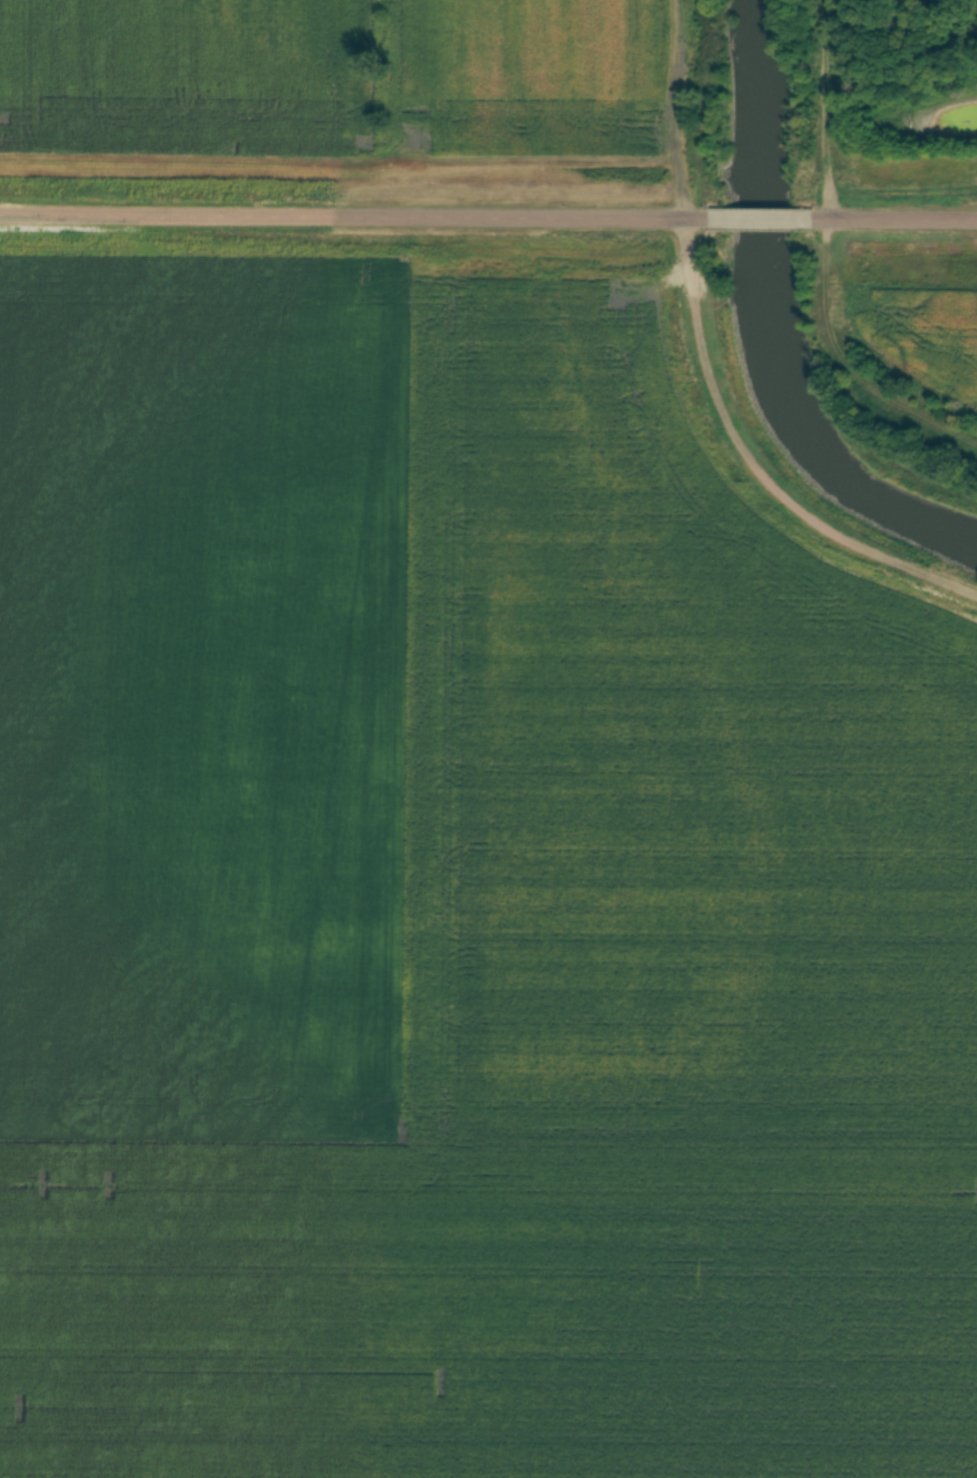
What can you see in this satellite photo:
road: (762, 215)
road: (898, 216)
road: (352, 218)
river: (762, 323)

